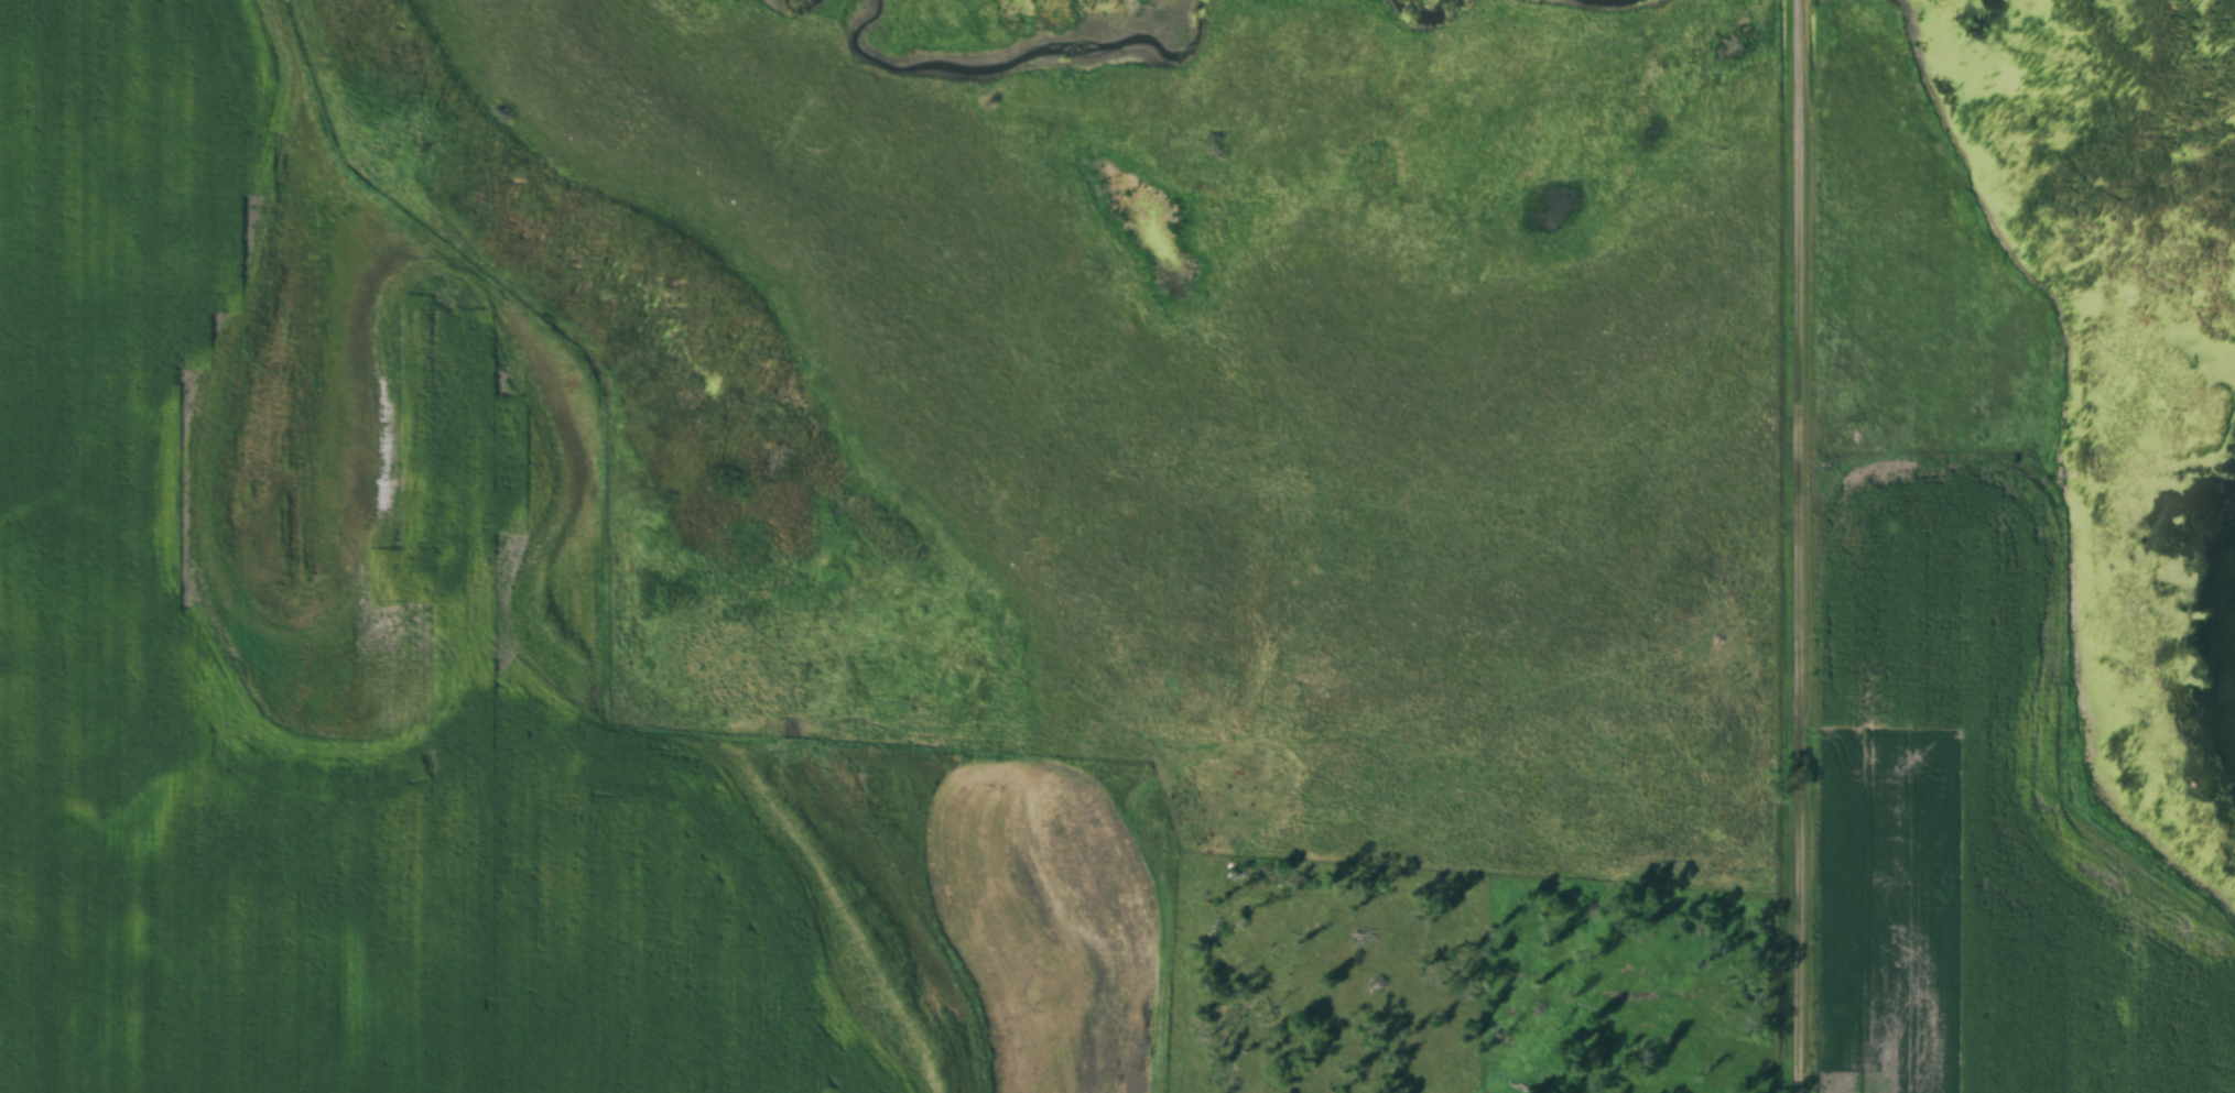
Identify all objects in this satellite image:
road: (1799, 546)

